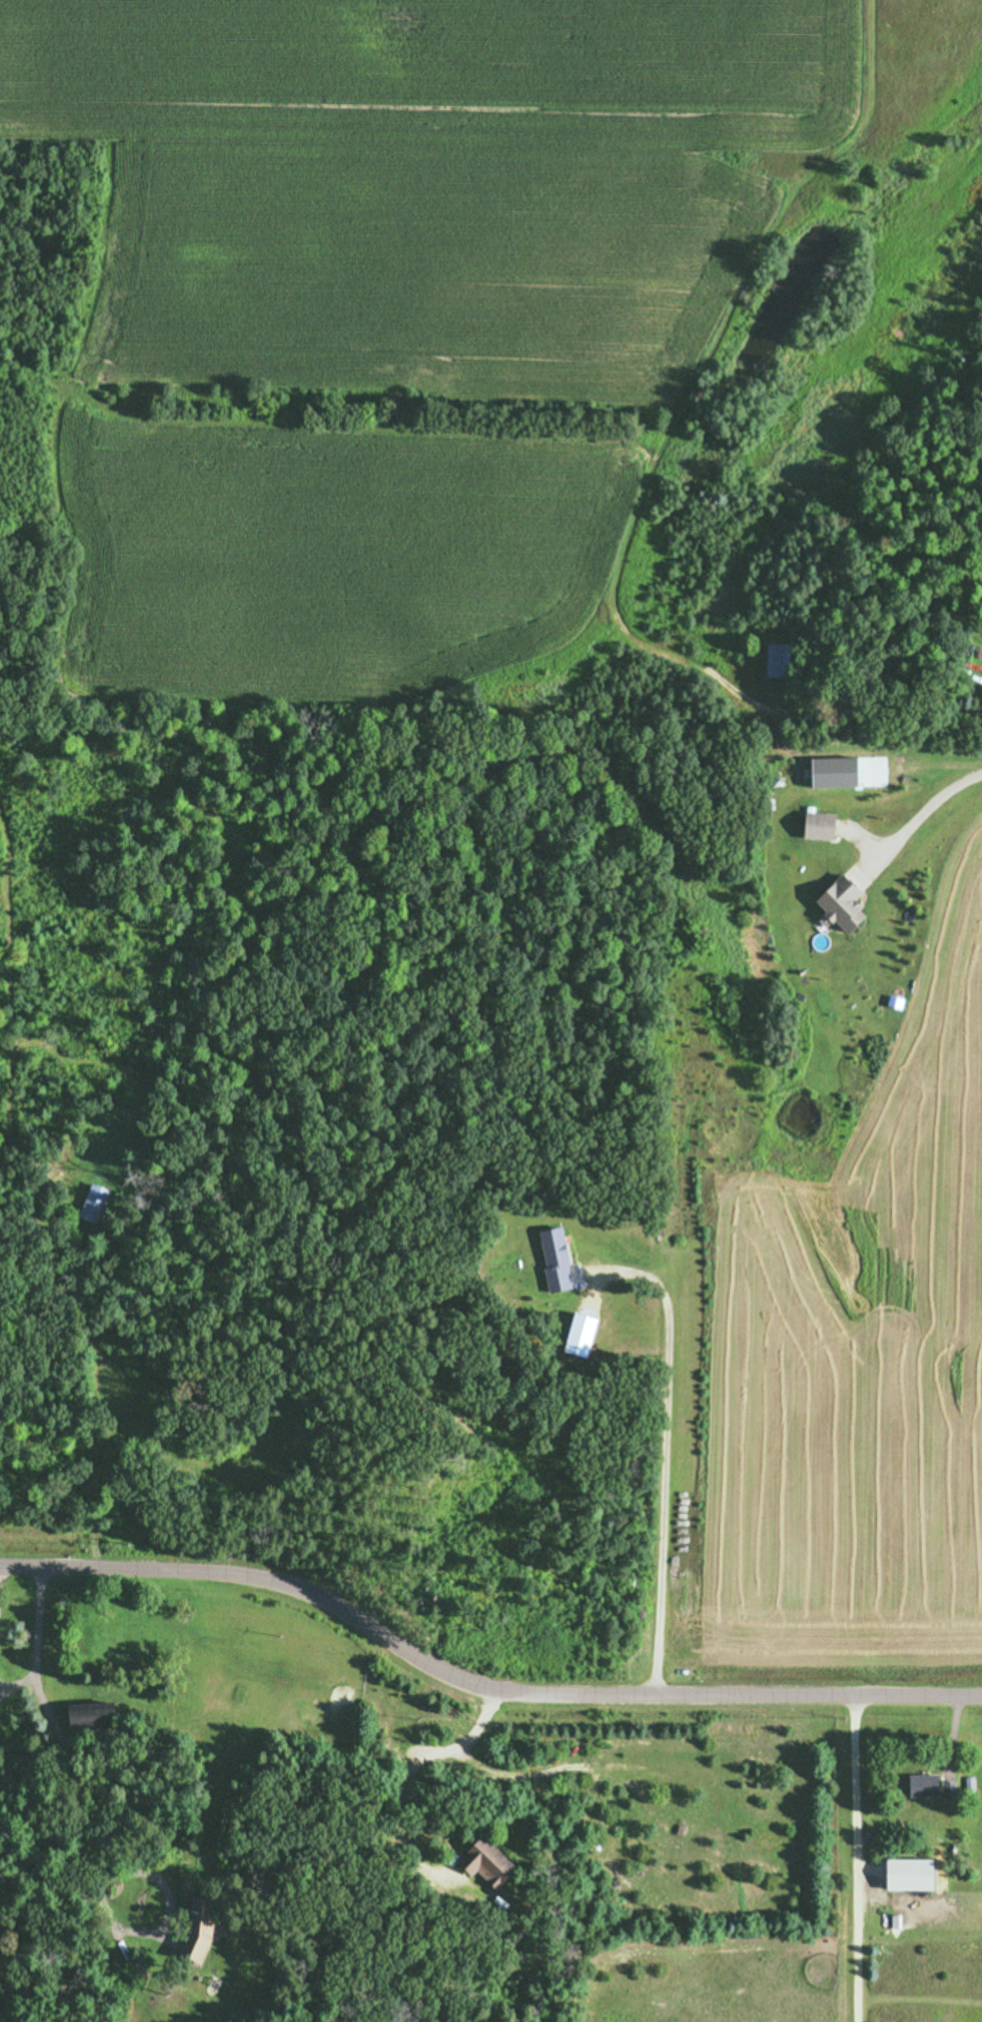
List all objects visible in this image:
building: (775, 658)
road: (920, 811)
building: (815, 824)
building: (837, 902)
building: (554, 1258)
road: (666, 1445)
road: (38, 1637)
road: (477, 1682)
road: (413, 1778)
building: (921, 1784)
road: (854, 1857)
building: (486, 1860)
road: (105, 1874)
building: (194, 1927)

